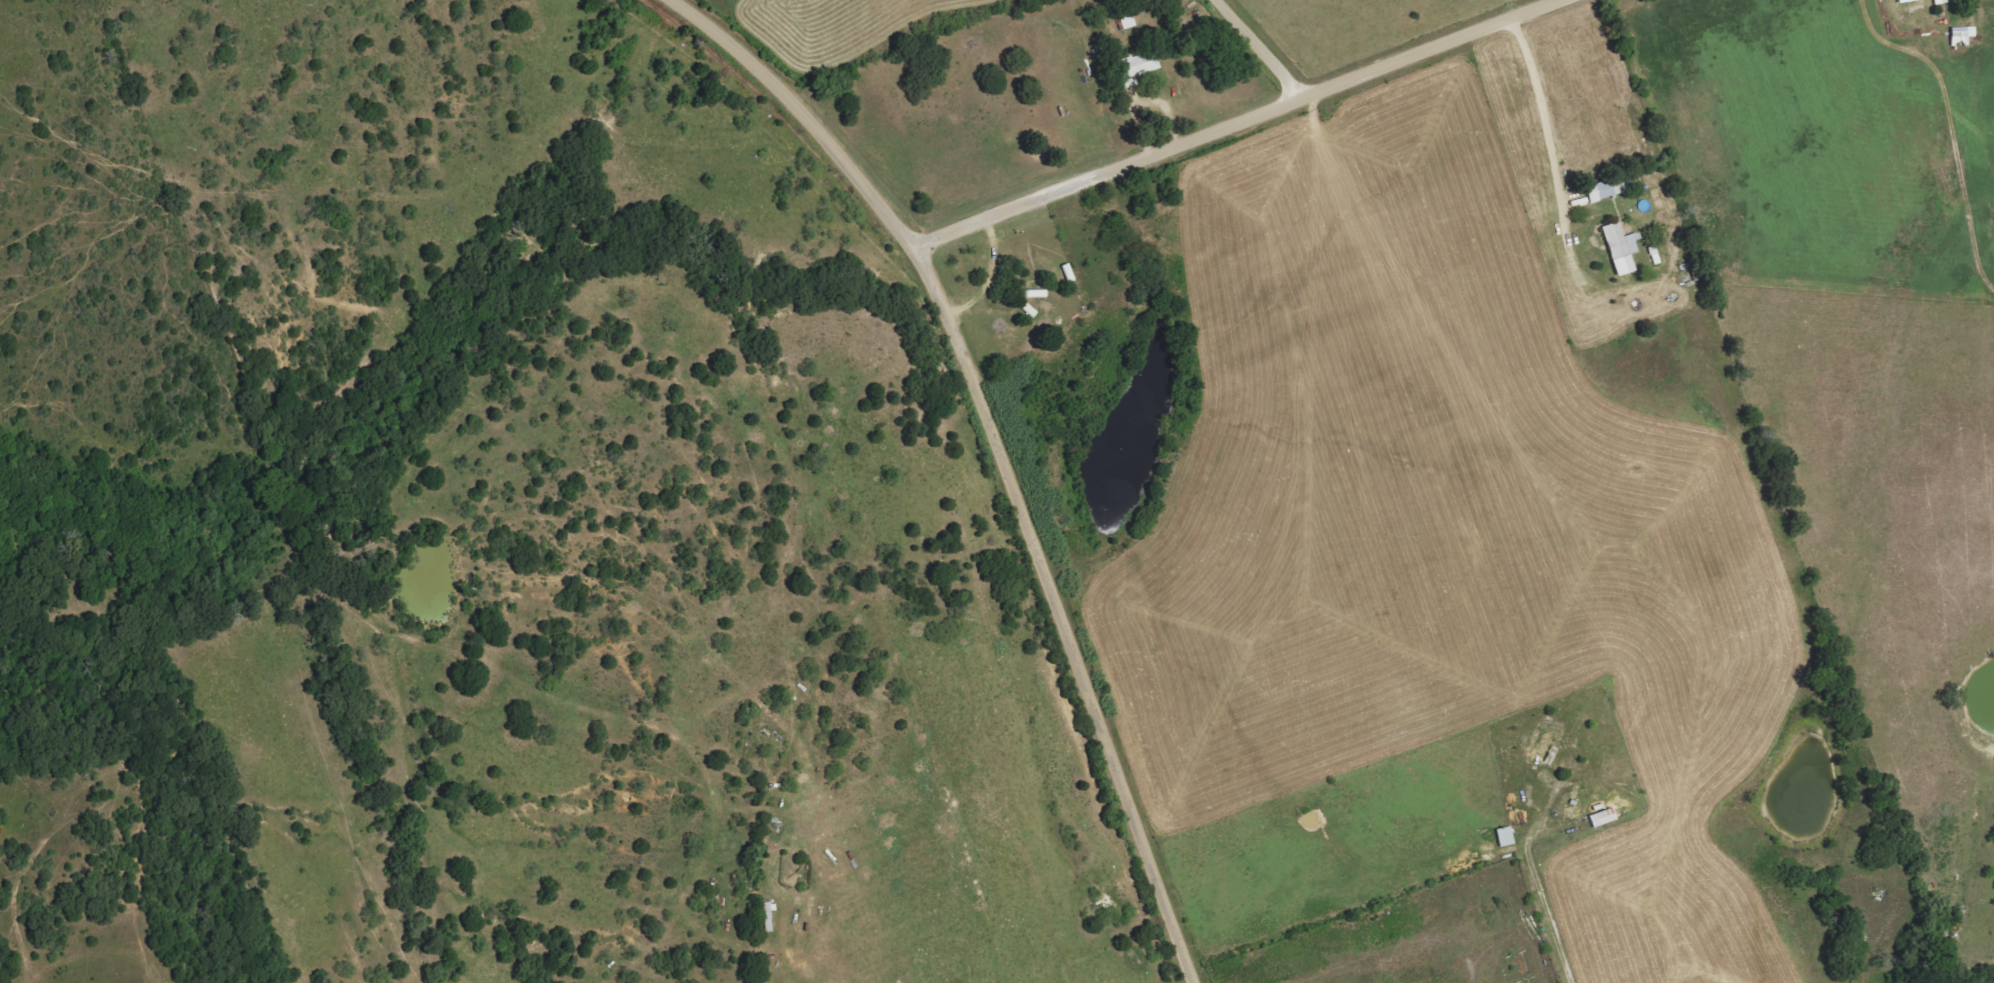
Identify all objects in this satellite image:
building: (1907, 1)
building: (1941, 2)
building: (1963, 36)
road: (1256, 51)
building: (1139, 65)
road: (1257, 117)
road: (1550, 158)
road: (932, 240)
building: (1623, 247)
road: (990, 277)
road: (994, 452)
building: (1604, 817)
building: (1507, 836)
road: (1539, 884)

